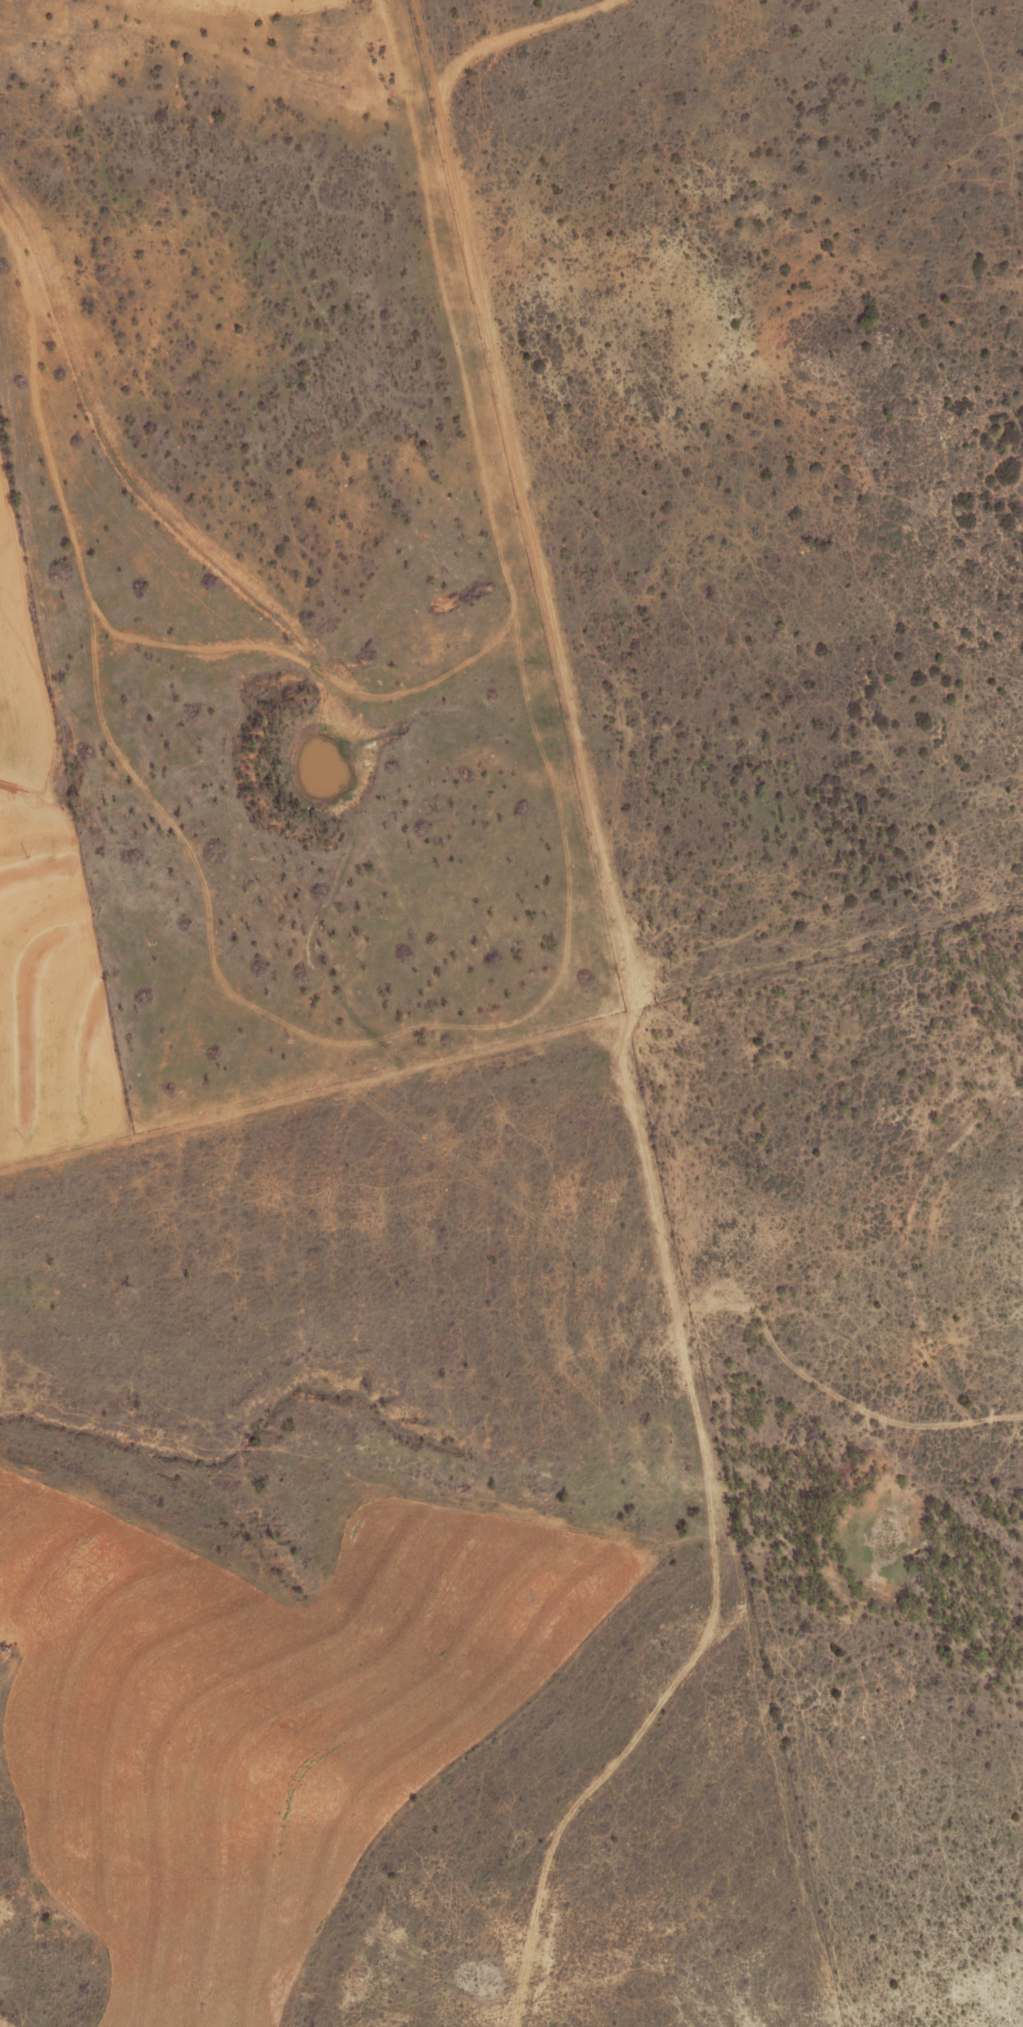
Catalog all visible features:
road: (446, 79)
road: (10, 236)
road: (71, 540)

